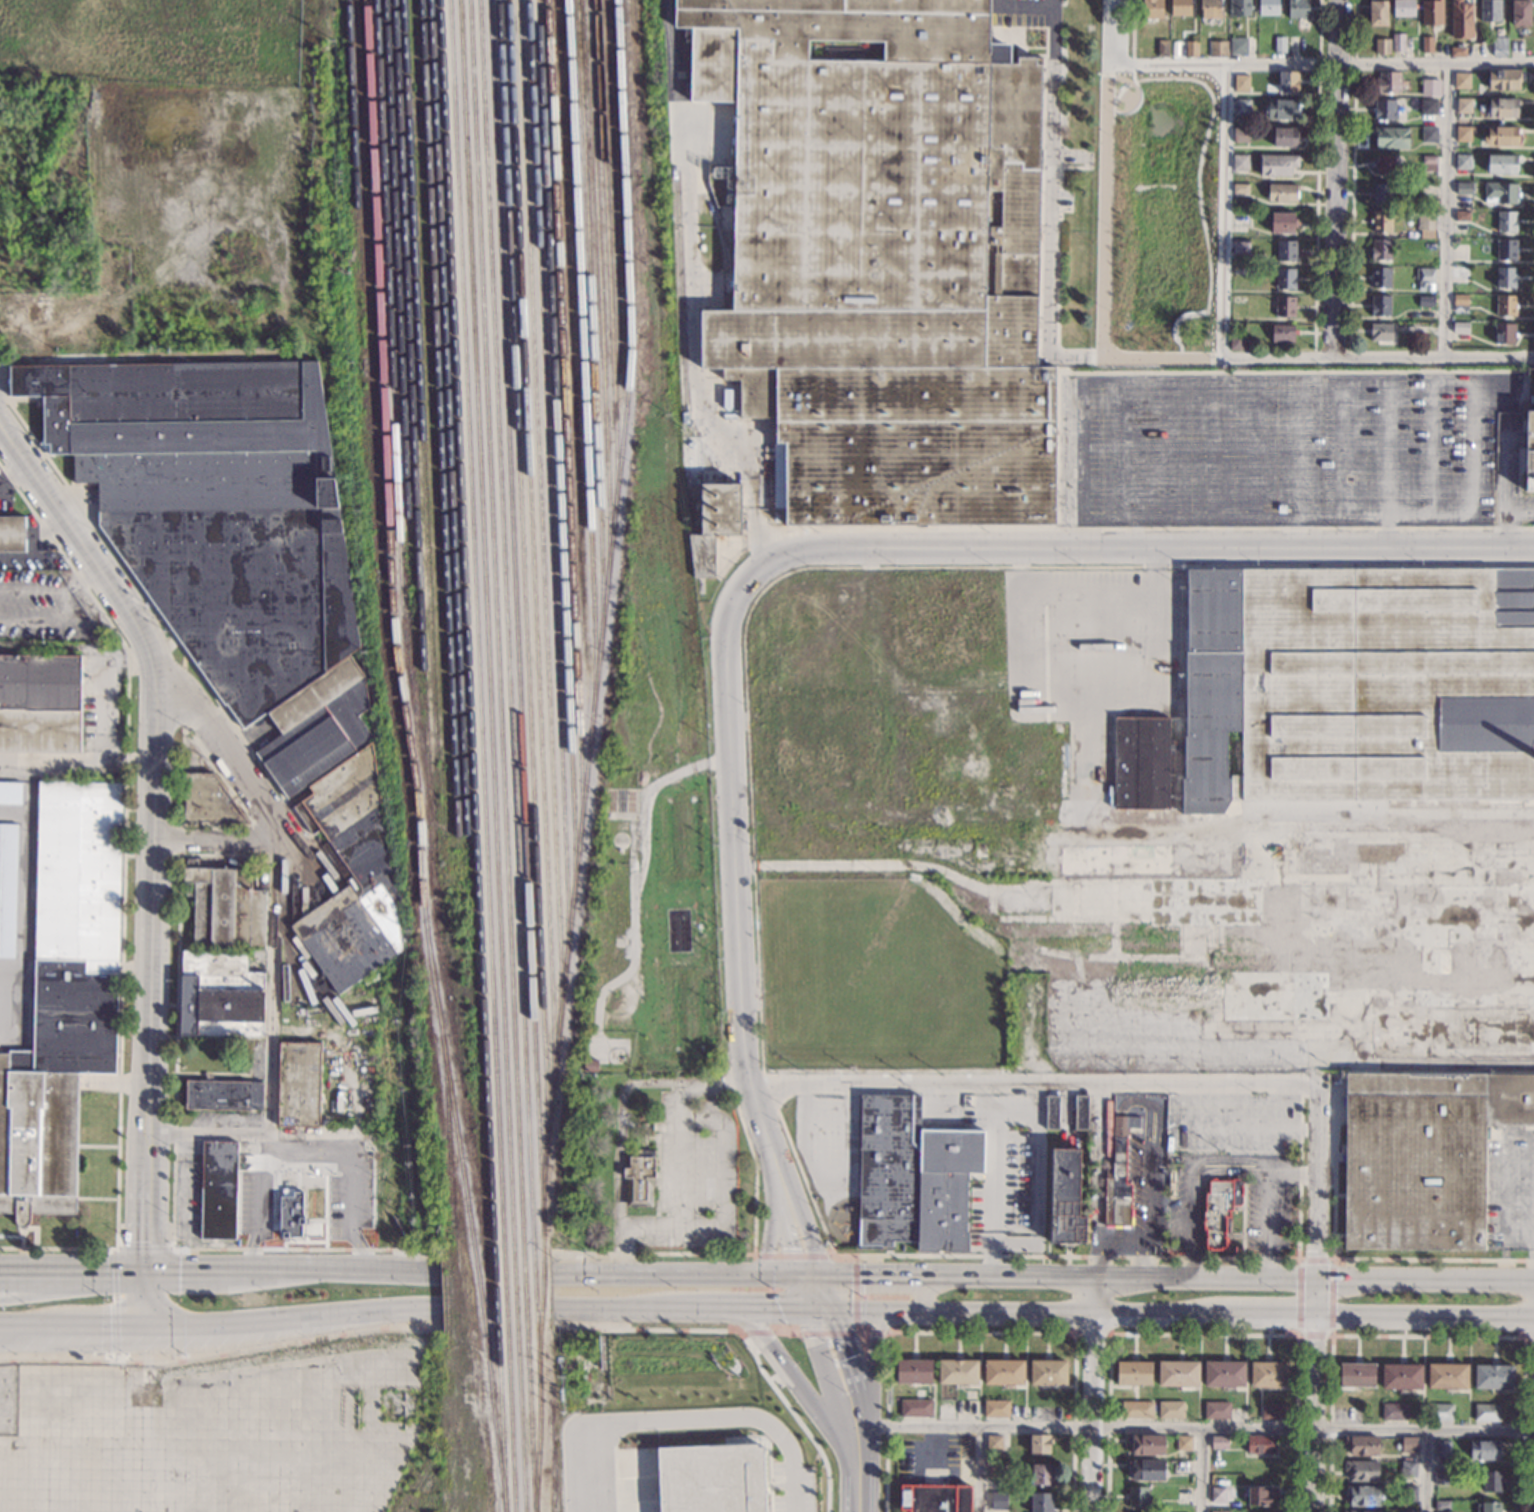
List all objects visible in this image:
road: (1024, 5)
building: (1179, 7)
building: (1267, 7)
building: (1239, 8)
building: (1295, 8)
building: (1403, 8)
building: (1152, 9)
building: (1209, 9)
building: (1489, 10)
parking lot: (1018, 12)
building: (1431, 12)
building: (1520, 12)
building: (1377, 13)
building: (1460, 20)
road: (1132, 28)
road: (1113, 31)
building: (1397, 42)
building: (1278, 44)
building: (1427, 44)
building: (1240, 46)
building: (1380, 46)
building: (1498, 46)
building: (1161, 48)
building: (1190, 48)
building: (1216, 49)
building: (1457, 52)
road: (1323, 64)
road: (1132, 69)
building: (1502, 79)
building: (1460, 80)
building: (1287, 81)
building: (1240, 82)
building: (1386, 82)
building: (1429, 88)
building: (1463, 105)
building: (1241, 106)
building: (1426, 106)
building: (1501, 108)
road: (1132, 109)
building: (1280, 109)
building: (1390, 110)
railway: (354, 112)
building: (1428, 134)
building: (1463, 134)
building: (1240, 135)
building: (1500, 136)
building: (1283, 137)
building: (1390, 137)
road: (1071, 156)
building: (1239, 162)
building: (1462, 162)
building: (1499, 163)
building: (1384, 164)
building: (1275, 165)
building: (1428, 165)
road: (1198, 175)
road: (1317, 178)
road: (1335, 178)
road: (1352, 179)
building: (1239, 188)
building: (1463, 188)
building: (1280, 193)
building: (1380, 193)
building: (1501, 193)
road: (1051, 204)
road: (1104, 209)
road: (1223, 211)
road: (1446, 211)
building: (1460, 216)
building: (1380, 221)
building: (1425, 221)
building: (1505, 221)
building: (1281, 223)
building: (1240, 245)
building: (1379, 248)
building: (1505, 249)
building: (1284, 250)
railway: (607, 260)
building: (882, 260)
railway: (395, 268)
building: (1238, 271)
building: (1379, 277)
building: (1283, 278)
building: (1504, 278)
building: (1426, 280)
road: (693, 290)
railway: (599, 292)
building: (1424, 301)
building: (1459, 304)
building: (1379, 305)
building: (1504, 305)
building: (1283, 307)
railway: (389, 311)
building: (153, 319)
railway: (590, 324)
building: (1459, 327)
building: (1379, 331)
building: (1281, 333)
building: (1503, 333)
building: (1235, 340)
railway: (408, 353)
railway: (582, 356)
road: (1318, 358)
road: (1064, 365)
road: (1224, 371)
road: (1450, 377)
road: (1100, 381)
railway: (381, 387)
railway: (419, 402)
railway: (438, 420)
railway: (448, 420)
railway: (565, 421)
road: (1276, 446)
building: (1528, 447)
road: (1254, 448)
parking lot: (1287, 448)
road: (1299, 448)
road: (1388, 448)
road: (1167, 449)
road: (1211, 449)
road: (1343, 449)
railway: (556, 453)
road: (13, 476)
railway: (548, 485)
building: (1279, 508)
railway: (540, 517)
road: (1276, 518)
building: (713, 524)
road: (1147, 528)
road: (1390, 532)
building: (11, 533)
road: (78, 546)
road: (1145, 548)
railway: (531, 549)
road: (78, 578)
railway: (524, 582)
building: (245, 586)
road: (31, 589)
road: (1090, 592)
parking lot: (42, 608)
road: (153, 610)
railway: (603, 615)
road: (52, 621)
building: (104, 644)
road: (150, 646)
parking lot: (1093, 656)
road: (183, 690)
railway: (519, 690)
building: (1346, 690)
building: (39, 703)
road: (102, 737)
railway: (511, 755)
railway: (473, 756)
railway: (482, 756)
railway: (492, 756)
railway: (501, 756)
road: (210, 765)
road: (251, 788)
building: (10, 793)
building: (208, 801)
road: (14, 813)
road: (643, 823)
road: (222, 840)
road: (166, 854)
railway: (421, 855)
road: (752, 856)
road: (865, 865)
building: (8, 888)
road: (122, 896)
road: (25, 902)
building: (223, 908)
road: (738, 924)
road: (150, 966)
road: (11, 976)
building: (218, 995)
building: (62, 997)
road: (271, 1047)
road: (876, 1083)
building: (297, 1084)
building: (221, 1095)
building: (1050, 1113)
building: (1079, 1113)
road: (174, 1134)
road: (1519, 1137)
road: (274, 1146)
road: (307, 1152)
building: (1423, 1156)
road: (681, 1157)
road: (1229, 1157)
building: (889, 1172)
building: (1118, 1175)
building: (638, 1177)
building: (946, 1186)
building: (217, 1191)
road: (1150, 1194)
building: (1066, 1198)
road: (1319, 1201)
road: (722, 1209)
building: (1220, 1212)
building: (291, 1213)
road: (773, 1220)
railway: (468, 1224)
road: (1126, 1237)
road: (739, 1254)
road: (794, 1255)
road: (1341, 1258)
road: (50, 1269)
road: (120, 1271)
road: (191, 1271)
road: (267, 1272)
road: (366, 1272)
road: (115, 1277)
road: (682, 1277)
road: (1020, 1278)
road: (1303, 1278)
road: (874, 1279)
traffic signals: (810, 1280)
road: (1518, 1282)
road: (1532, 1283)
road: (51, 1288)
road: (854, 1294)
road: (815, 1296)
road: (1101, 1297)
road: (140, 1299)
road: (613, 1308)
road: (709, 1310)
road: (783, 1311)
traffic signals: (820, 1312)
road: (1016, 1315)
road: (290, 1317)
road: (1264, 1317)
road: (1424, 1319)
road: (767, 1323)
road: (15, 1326)
road: (84, 1327)
road: (813, 1332)
road: (981, 1332)
road: (15, 1333)
road: (1092, 1333)
road: (1202, 1333)
road: (1331, 1335)
road: (1426, 1336)
road: (1529, 1337)
road: (744, 1341)
road: (866, 1352)
road: (221, 1353)
road: (871, 1367)
building: (913, 1371)
building: (956, 1371)
building: (1001, 1372)
building: (1047, 1372)
building: (1132, 1373)
building: (1177, 1374)
building: (1223, 1374)
building: (1267, 1375)
building: (1356, 1375)
building: (1400, 1377)
building: (1447, 1377)
building: (1493, 1377)
road: (802, 1389)
road: (843, 1389)
road: (1090, 1394)
building: (914, 1407)
building: (995, 1409)
building: (1135, 1409)
building: (1171, 1410)
building: (1216, 1410)
building: (1272, 1411)
building: (1393, 1412)
building: (1439, 1412)
building: (1485, 1413)
road: (1316, 1414)
road: (685, 1419)
road: (1194, 1429)
building: (1218, 1442)
building: (992, 1443)
building: (1039, 1443)
building: (1183, 1443)
building: (1146, 1444)
building: (1259, 1445)
building: (1408, 1445)
building: (1362, 1446)
building: (1441, 1448)
building: (1484, 1450)
road: (979, 1469)
building: (1146, 1469)
building: (1408, 1469)
building: (1360, 1470)
building: (996, 1471)
road: (1201, 1471)
road: (1426, 1471)
building: (1040, 1474)
building: (1441, 1477)
building: (710, 1479)
building: (1490, 1482)
road: (857, 1490)
building: (1217, 1494)
building: (1408, 1494)
building: (1183, 1495)
building: (1360, 1496)
building: (1136, 1497)
building: (1257, 1497)
building: (939, 1499)
building: (997, 1500)
building: (1039, 1502)
building: (1442, 1506)
building: (1489, 1508)
building: (1219, 1511)
building: (1354, 1511)
building: (1407, 1511)

